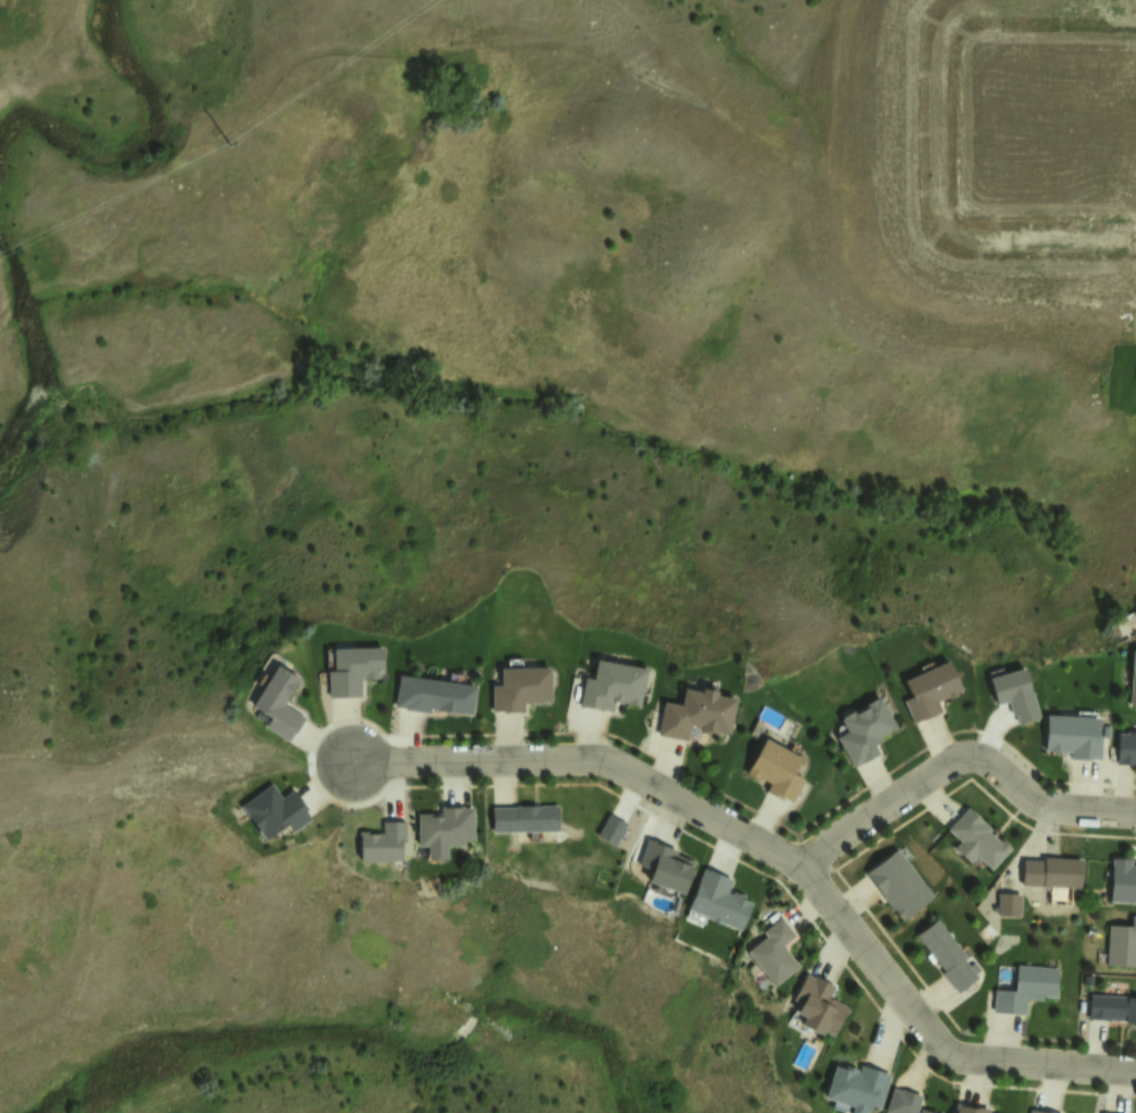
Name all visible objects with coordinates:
building: (354, 675)
building: (1133, 684)
building: (612, 690)
building: (929, 690)
building: (523, 693)
building: (433, 694)
building: (1015, 695)
building: (281, 706)
building: (696, 717)
building: (863, 729)
building: (1074, 738)
building: (1127, 750)
road: (590, 756)
road: (963, 765)
building: (779, 774)
building: (276, 817)
building: (526, 820)
building: (447, 830)
building: (611, 833)
building: (975, 839)
building: (384, 846)
building: (667, 867)
building: (1051, 871)
building: (1122, 880)
building: (903, 887)
building: (1006, 903)
building: (721, 906)
building: (1120, 942)
building: (777, 954)
building: (950, 960)
building: (1028, 991)
building: (818, 1004)
building: (1110, 1008)
road: (934, 1034)
building: (855, 1086)
building: (902, 1104)
building: (970, 1107)
building: (1039, 1111)
building: (922, 1112)

